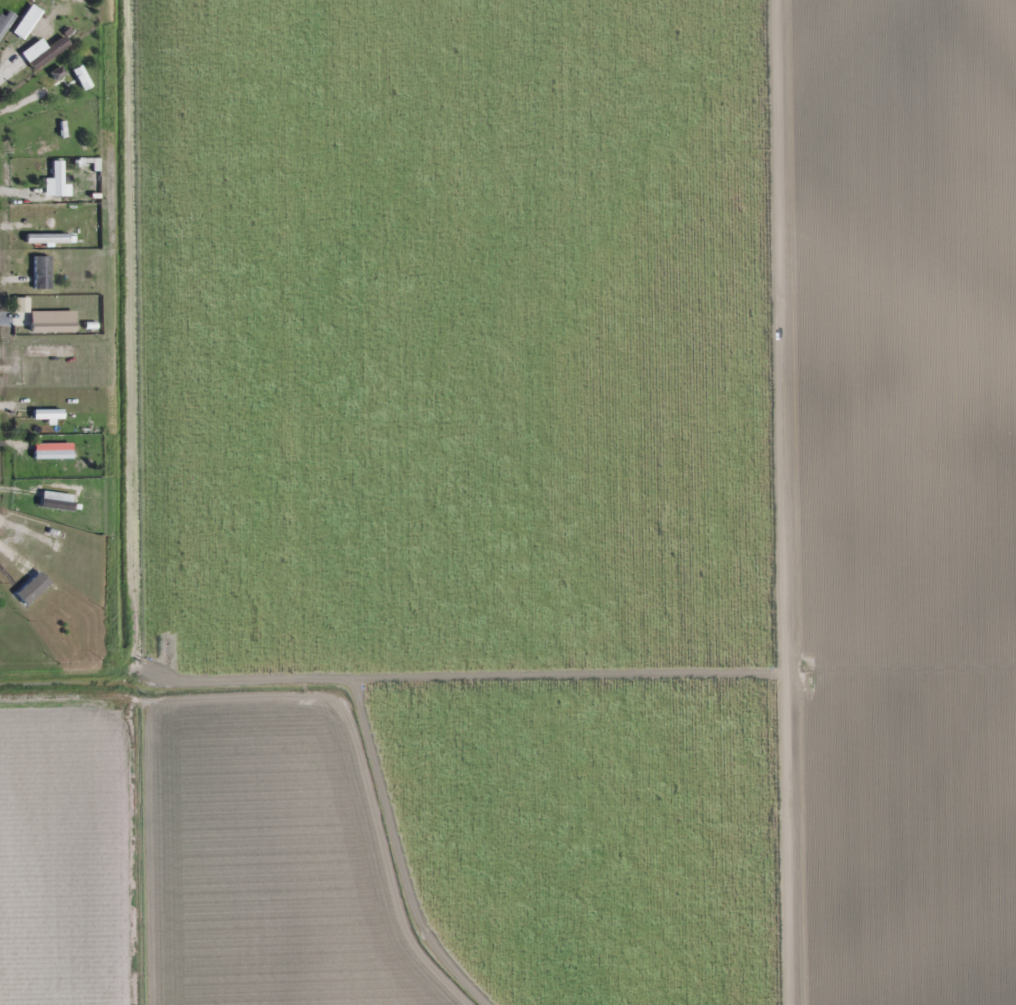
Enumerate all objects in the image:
building: (48, 54)
building: (54, 132)
building: (46, 239)
building: (52, 454)
road: (789, 502)
building: (55, 504)
building: (5, 608)

